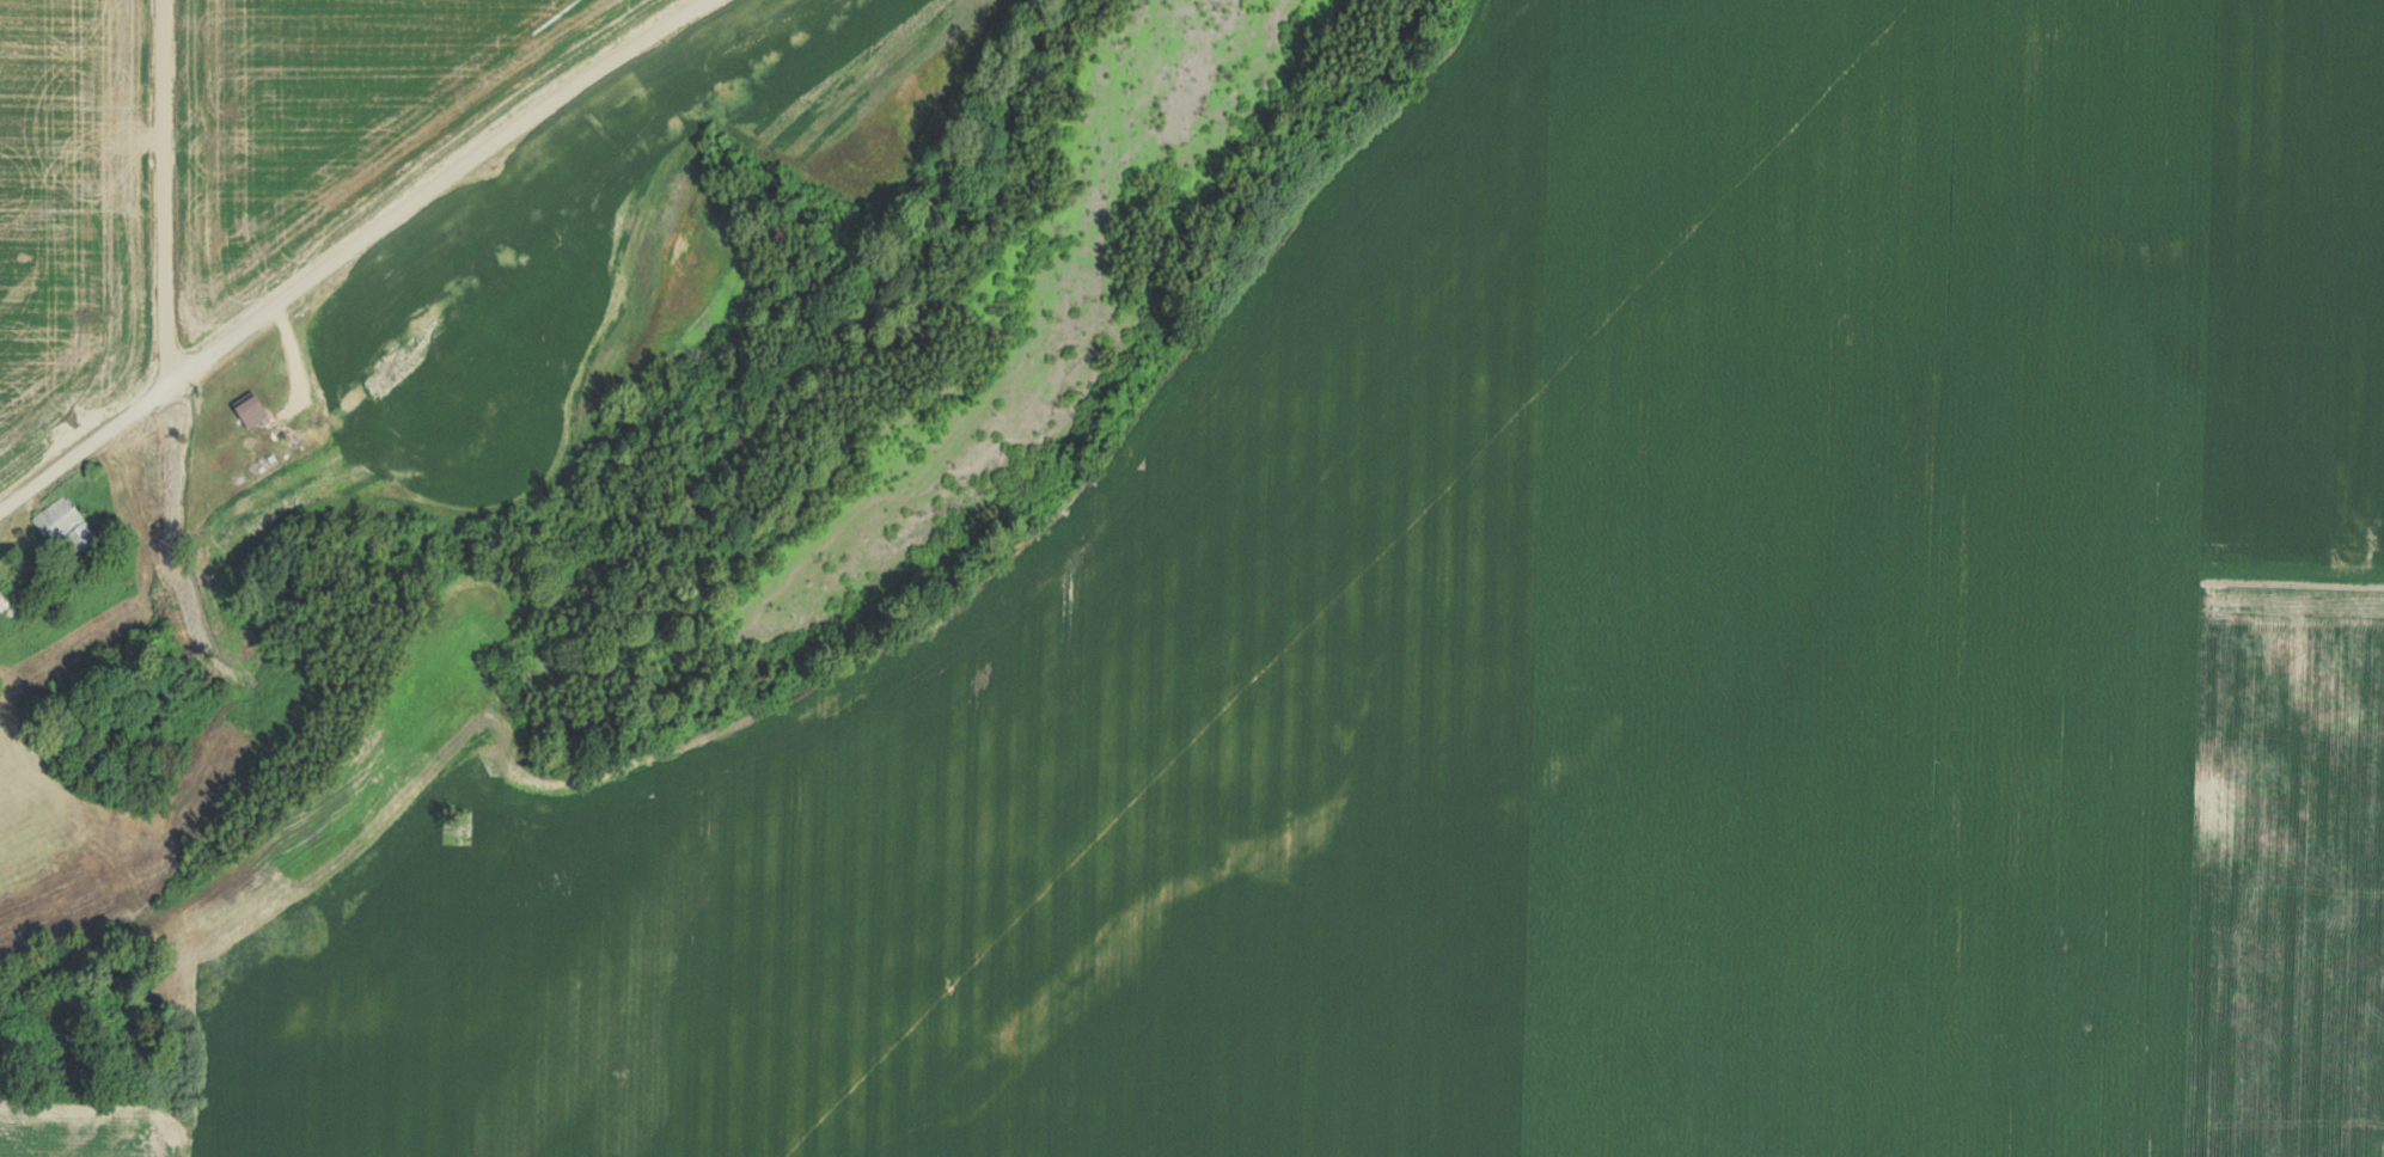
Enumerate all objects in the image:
road: (169, 190)
road: (353, 253)
road: (298, 378)
building: (245, 411)
building: (65, 514)
building: (2, 602)

